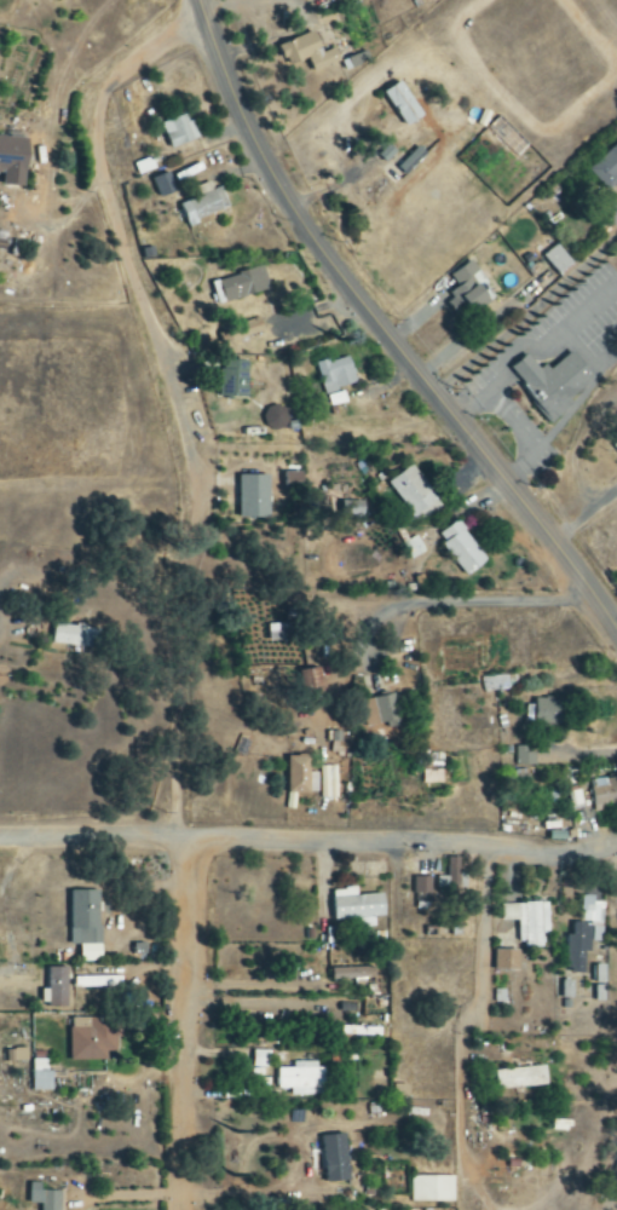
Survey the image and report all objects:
building: (307, 52)
building: (354, 60)
building: (179, 132)
building: (13, 161)
building: (606, 168)
building: (163, 185)
building: (204, 204)
building: (555, 260)
building: (241, 286)
building: (467, 289)
building: (244, 330)
road: (382, 332)
building: (335, 374)
building: (233, 379)
building: (553, 382)
building: (615, 444)
building: (293, 482)
building: (414, 494)
building: (254, 497)
building: (462, 549)
road: (156, 586)
road: (474, 601)
building: (75, 636)
building: (384, 710)
building: (547, 713)
building: (339, 743)
building: (525, 756)
building: (301, 777)
building: (605, 794)
road: (308, 841)
building: (421, 889)
building: (359, 909)
building: (527, 922)
building: (85, 924)
building: (583, 935)
building: (507, 961)
building: (352, 974)
building: (94, 983)
building: (600, 984)
building: (54, 989)
road: (255, 1002)
road: (477, 1009)
building: (92, 1039)
building: (15, 1056)
building: (260, 1059)
building: (41, 1077)
building: (524, 1078)
building: (300, 1079)
building: (336, 1159)
building: (432, 1191)
building: (44, 1198)

